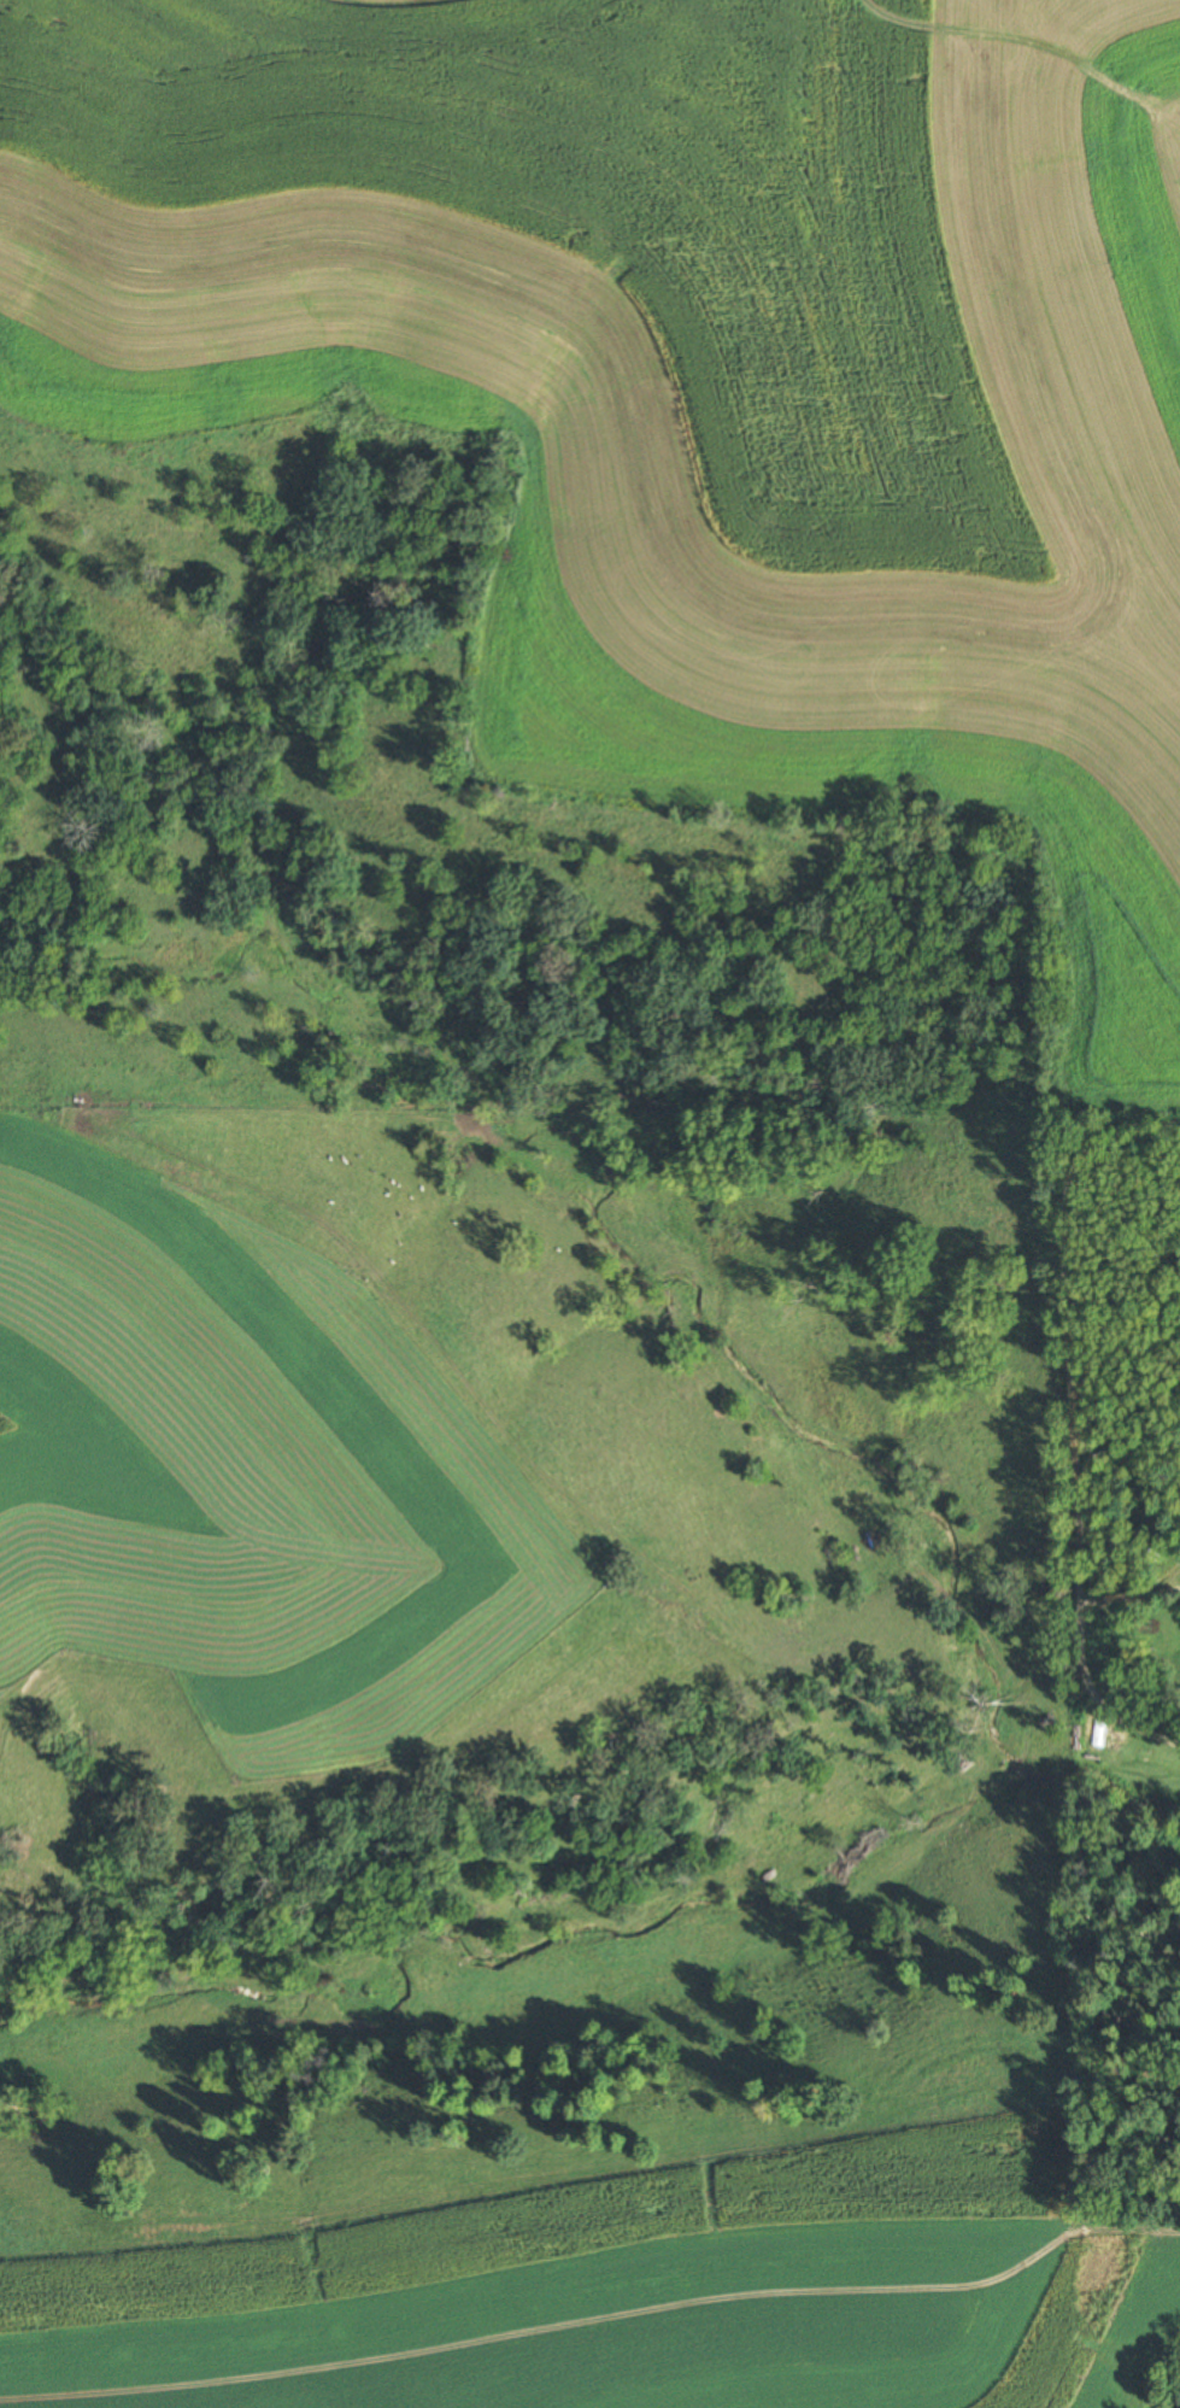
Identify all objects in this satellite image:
road: (1068, 1418)

